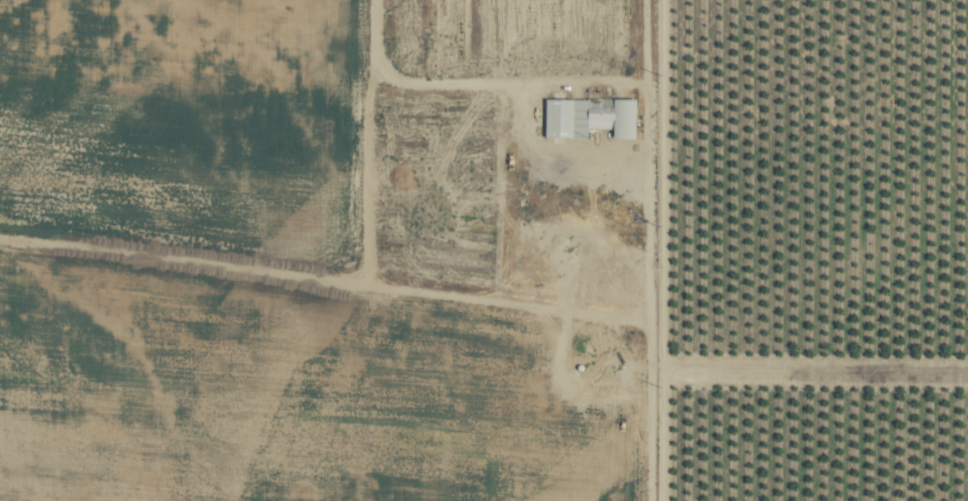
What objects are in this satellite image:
road: (447, 83)
building: (592, 118)
crop: (484, 250)

